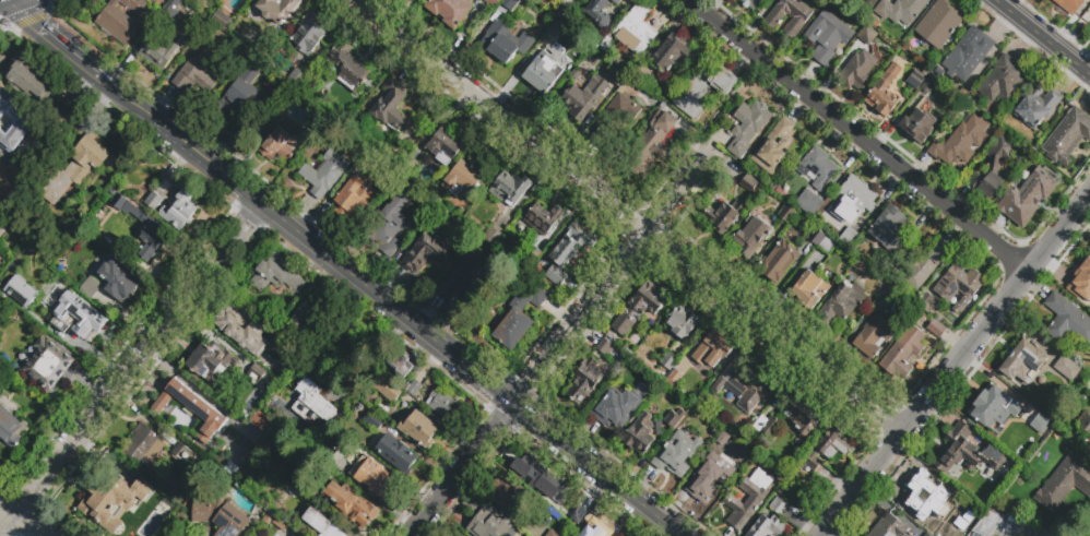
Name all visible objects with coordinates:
building: (152, 0)
building: (616, 1)
building: (494, 2)
building: (509, 3)
building: (749, 3)
building: (1069, 5)
building: (277, 9)
building: (173, 10)
building: (899, 10)
building: (450, 11)
building: (561, 14)
building: (593, 14)
road: (26, 15)
building: (120, 19)
building: (772, 19)
building: (223, 23)
building: (937, 23)
building: (1089, 28)
building: (635, 29)
building: (1089, 31)
building: (307, 33)
building: (558, 33)
road: (49, 35)
building: (867, 35)
building: (827, 37)
road: (1043, 37)
building: (505, 41)
building: (595, 41)
building: (612, 50)
building: (157, 52)
building: (671, 53)
building: (968, 53)
road: (129, 55)
building: (347, 65)
building: (197, 71)
building: (856, 72)
building: (541, 73)
building: (644, 73)
building: (614, 75)
building: (1002, 79)
building: (31, 80)
building: (915, 80)
building: (296, 81)
building: (927, 84)
building: (703, 87)
road: (80, 88)
building: (882, 92)
building: (582, 97)
building: (239, 98)
road: (162, 103)
building: (392, 107)
building: (1036, 107)
road: (98, 108)
road: (722, 110)
building: (616, 117)
building: (56, 118)
building: (12, 124)
building: (917, 124)
building: (748, 126)
road: (858, 136)
building: (1068, 136)
building: (960, 141)
building: (649, 143)
building: (277, 145)
building: (443, 145)
building: (5, 146)
road: (220, 148)
building: (774, 148)
building: (4, 159)
road: (234, 162)
road: (182, 163)
building: (78, 168)
building: (820, 168)
building: (992, 169)
building: (325, 172)
building: (462, 177)
building: (747, 183)
building: (509, 188)
building: (1031, 192)
building: (353, 196)
building: (154, 201)
building: (807, 201)
building: (853, 201)
building: (179, 210)
road: (300, 212)
building: (786, 213)
building: (723, 216)
road: (315, 217)
road: (629, 217)
building: (542, 218)
building: (389, 224)
building: (888, 228)
building: (153, 233)
building: (494, 236)
building: (749, 237)
building: (849, 237)
building: (824, 243)
building: (426, 250)
building: (570, 254)
building: (532, 258)
building: (0, 259)
road: (315, 260)
building: (778, 262)
building: (0, 263)
building: (922, 265)
building: (886, 266)
road: (327, 273)
building: (277, 276)
building: (464, 276)
building: (118, 278)
building: (1080, 281)
road: (392, 283)
building: (958, 284)
road: (360, 287)
building: (91, 288)
building: (808, 289)
building: (19, 293)
building: (58, 294)
building: (894, 298)
road: (388, 302)
building: (841, 302)
building: (927, 303)
building: (640, 307)
building: (310, 312)
road: (427, 312)
building: (519, 315)
building: (85, 318)
building: (1067, 320)
building: (682, 322)
building: (936, 327)
building: (242, 333)
road: (393, 333)
building: (872, 336)
building: (280, 337)
building: (339, 337)
road: (559, 346)
building: (604, 347)
road: (420, 349)
building: (712, 349)
building: (902, 353)
road: (431, 360)
building: (211, 361)
building: (11, 362)
building: (1023, 362)
building: (48, 364)
building: (665, 364)
building: (400, 365)
road: (957, 368)
building: (1066, 368)
road: (131, 369)
building: (254, 374)
building: (674, 377)
building: (584, 380)
building: (744, 384)
building: (413, 386)
building: (387, 390)
building: (209, 401)
building: (312, 403)
building: (445, 406)
building: (613, 407)
building: (995, 408)
building: (191, 409)
building: (672, 417)
building: (259, 419)
building: (801, 420)
building: (374, 422)
building: (1086, 424)
building: (1040, 425)
building: (766, 429)
building: (420, 430)
building: (9, 431)
building: (639, 434)
building: (1055, 438)
building: (832, 443)
road: (599, 445)
building: (965, 451)
building: (396, 452)
building: (675, 454)
building: (186, 456)
building: (151, 457)
building: (331, 460)
building: (811, 463)
building: (298, 467)
road: (626, 471)
building: (269, 472)
building: (706, 473)
building: (371, 476)
building: (536, 477)
building: (1052, 485)
building: (254, 488)
road: (596, 489)
building: (503, 492)
road: (656, 492)
building: (925, 497)
building: (111, 499)
building: (748, 499)
building: (351, 503)
road: (599, 504)
building: (471, 505)
building: (778, 507)
road: (8, 509)
road: (675, 509)
building: (576, 512)
building: (221, 516)
building: (166, 520)
road: (632, 521)
building: (550, 522)
building: (986, 523)
building: (322, 524)
building: (490, 524)
road: (29, 525)
building: (766, 526)
building: (889, 527)
building: (288, 531)
building: (597, 531)
building: (171, 532)
building: (279, 534)
road: (730, 534)
building: (925, 535)

